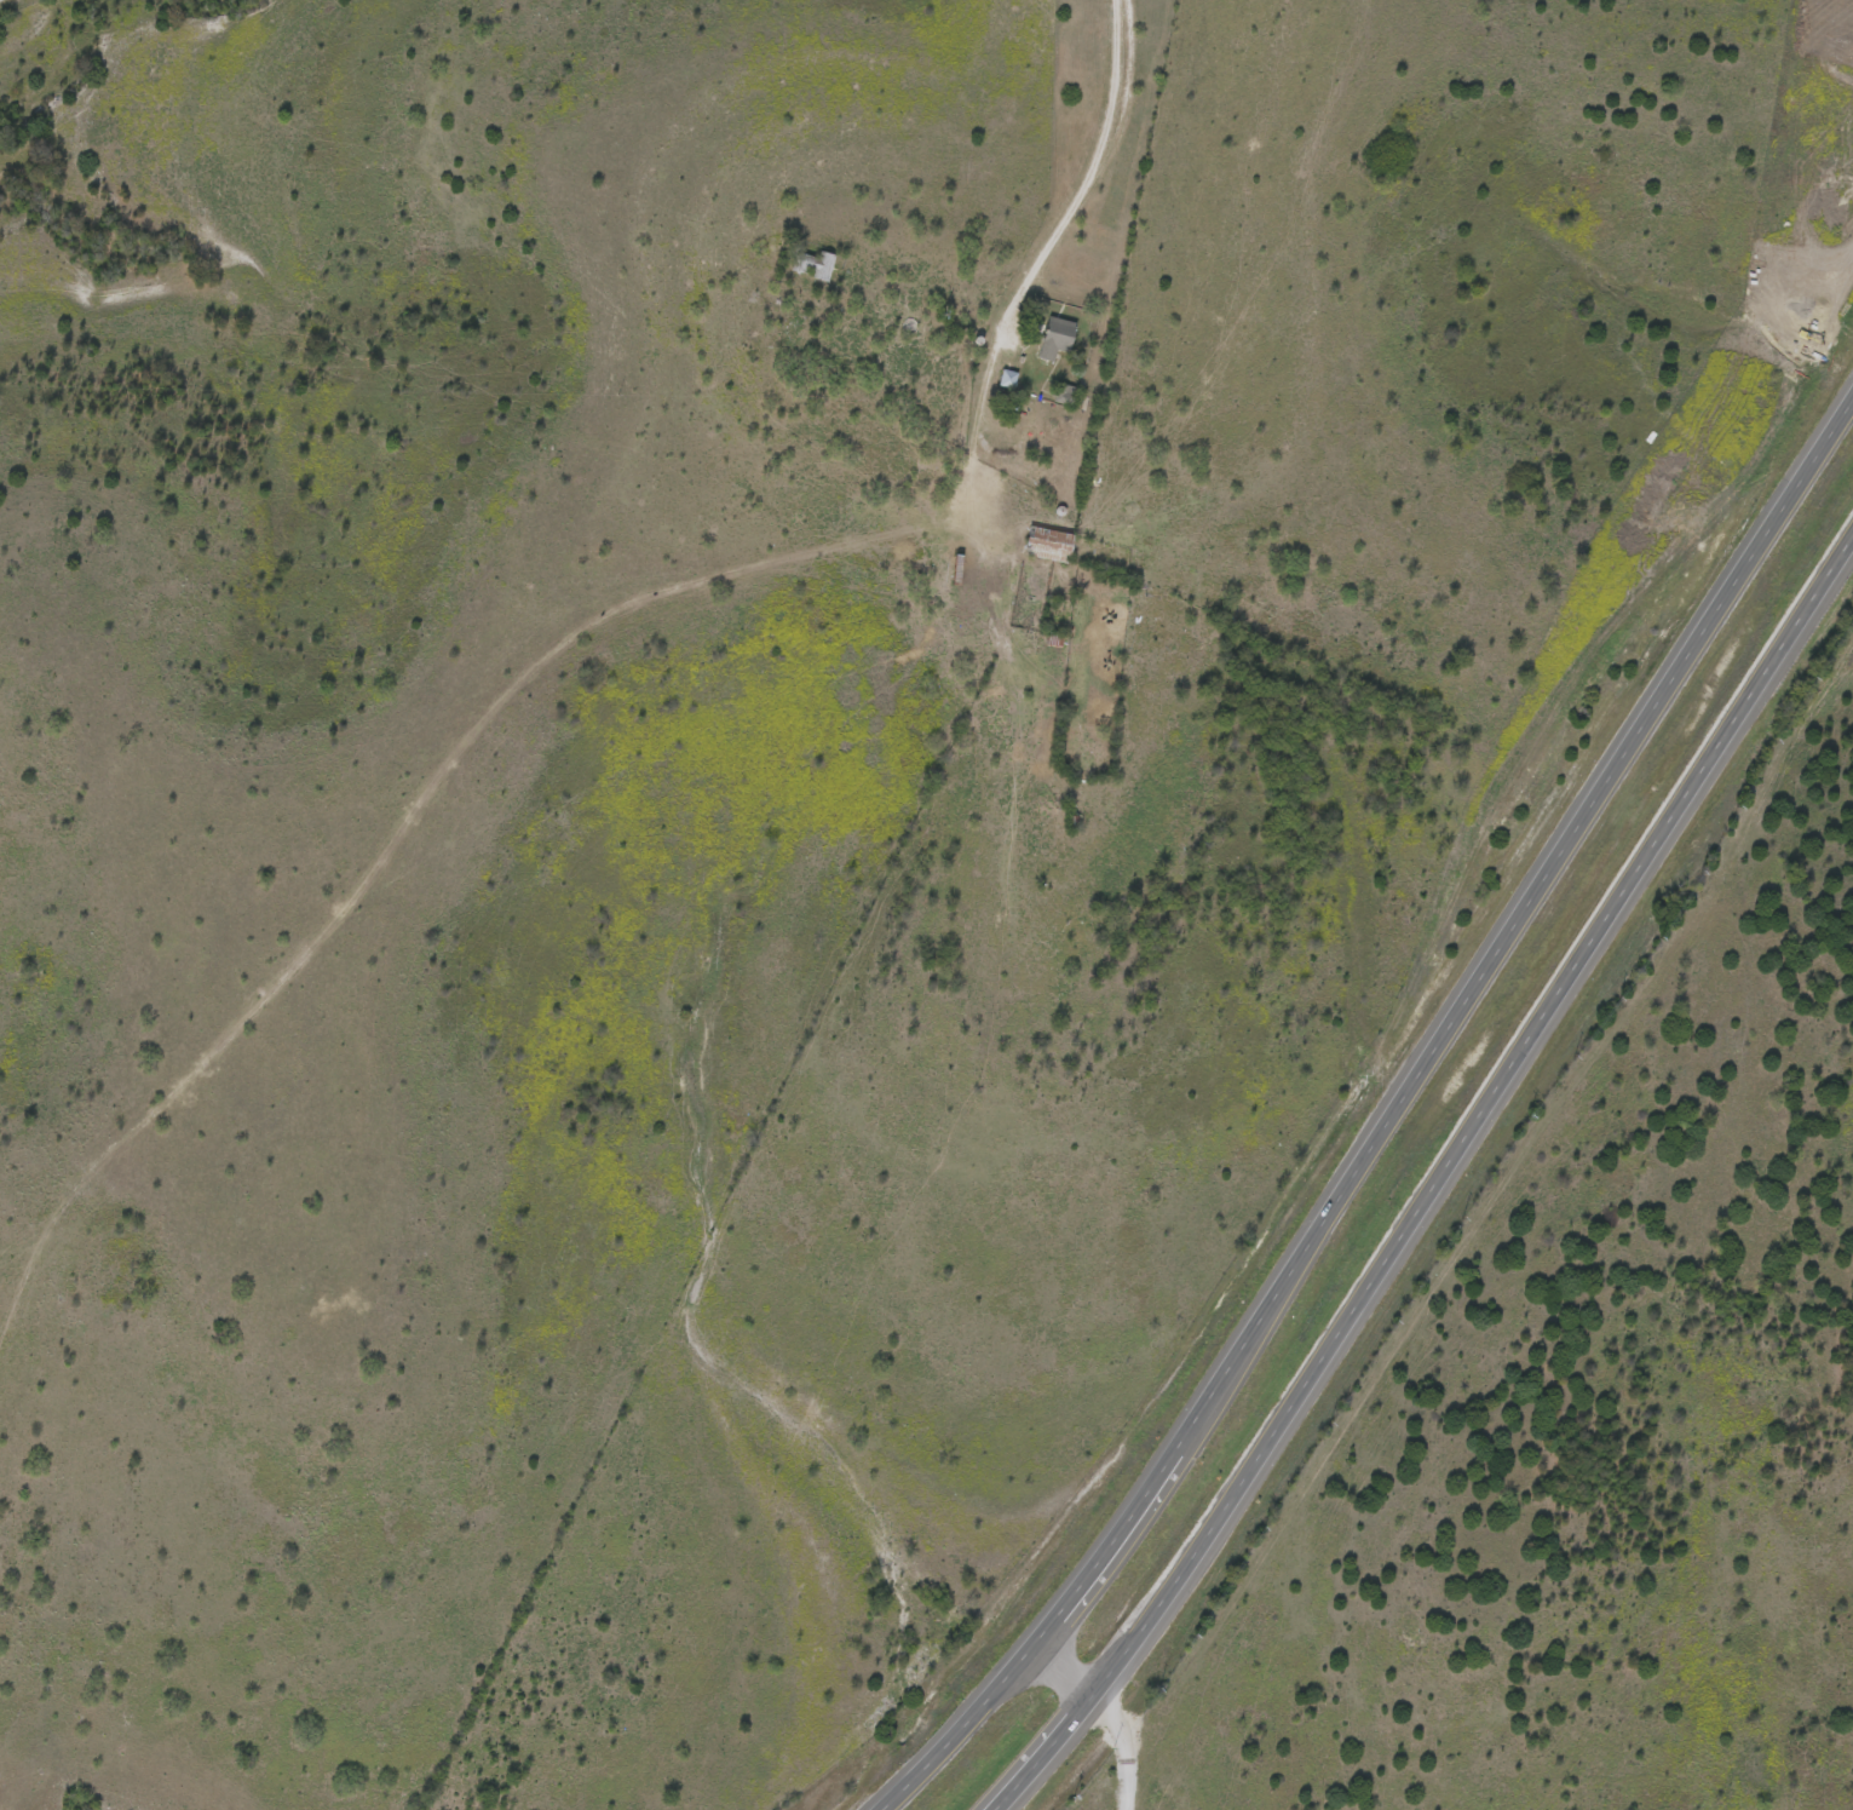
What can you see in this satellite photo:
road: (1094, 166)
building: (813, 263)
building: (1058, 337)
building: (1065, 392)
road: (1806, 470)
building: (1049, 542)
road: (1840, 556)
road: (1333, 1194)
road: (1422, 1201)
road: (1109, 1710)

